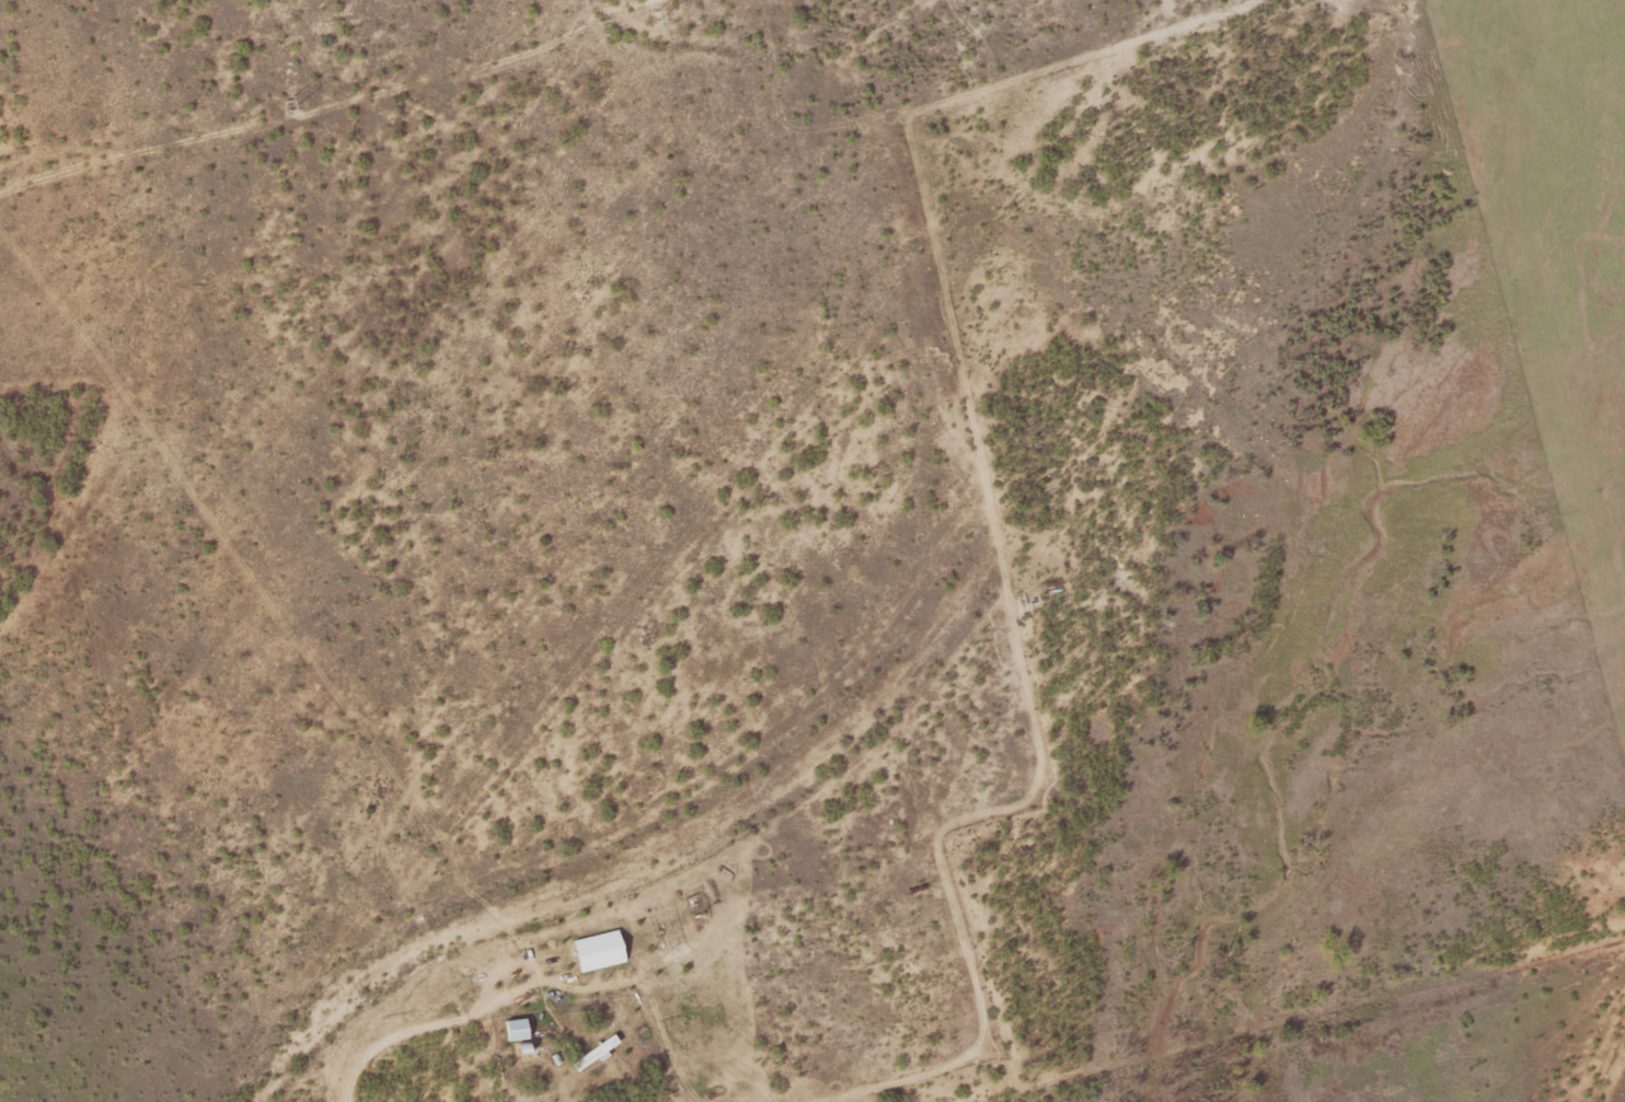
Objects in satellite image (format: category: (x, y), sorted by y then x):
power tower: (660, 14)
power tower: (285, 105)
building: (606, 947)
road: (527, 963)
building: (519, 1029)
road: (396, 1033)
building: (598, 1053)

